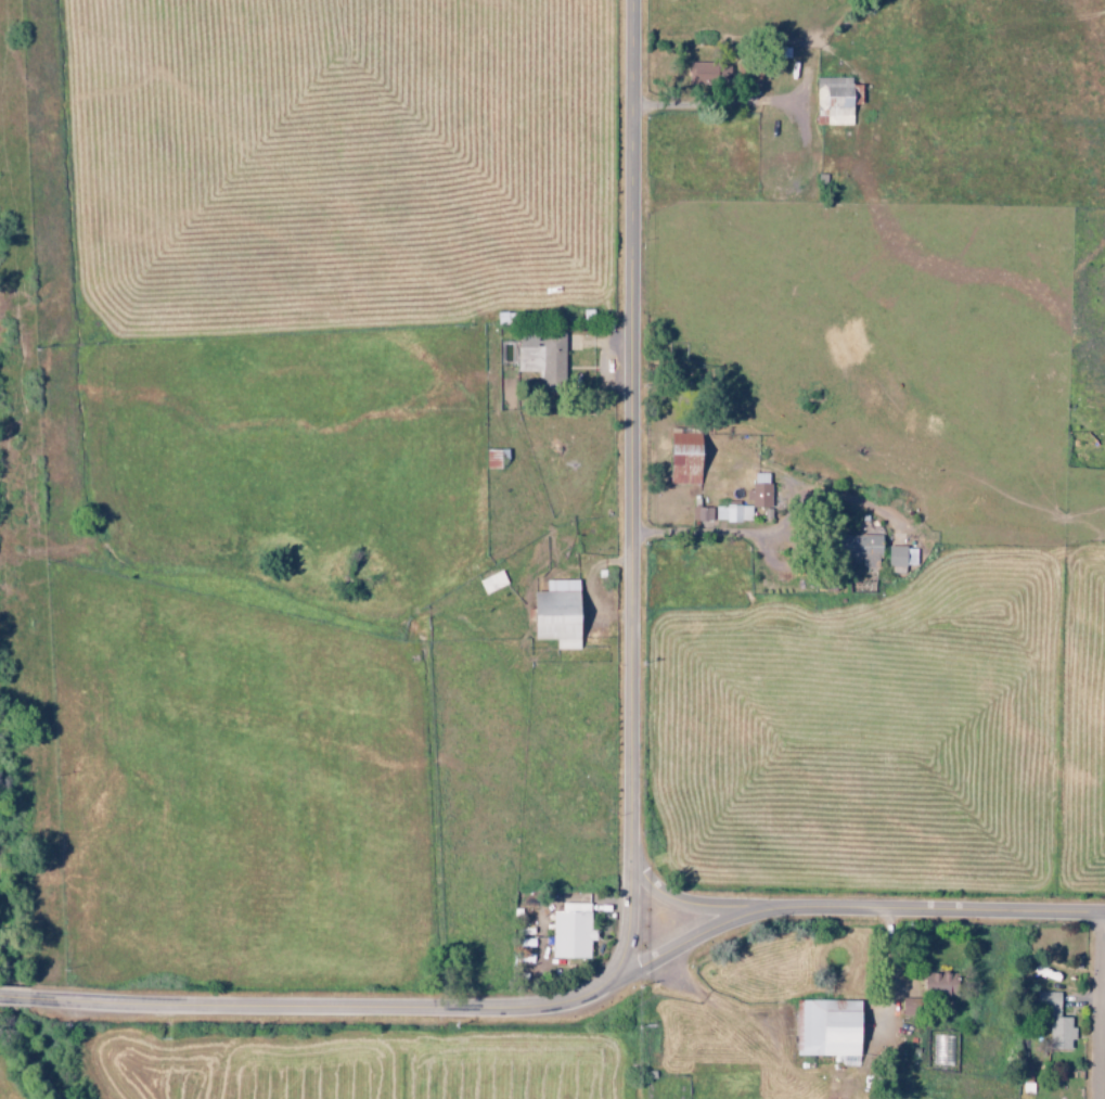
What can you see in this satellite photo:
building: (711, 74)
building: (836, 101)
building: (544, 357)
building: (689, 459)
building: (761, 491)
building: (732, 513)
building: (703, 514)
building: (868, 546)
building: (899, 560)
building: (562, 614)
road: (634, 802)
road: (699, 908)
road: (853, 908)
building: (574, 931)
building: (943, 983)
building: (1058, 1023)
building: (833, 1028)
road: (1103, 1043)

